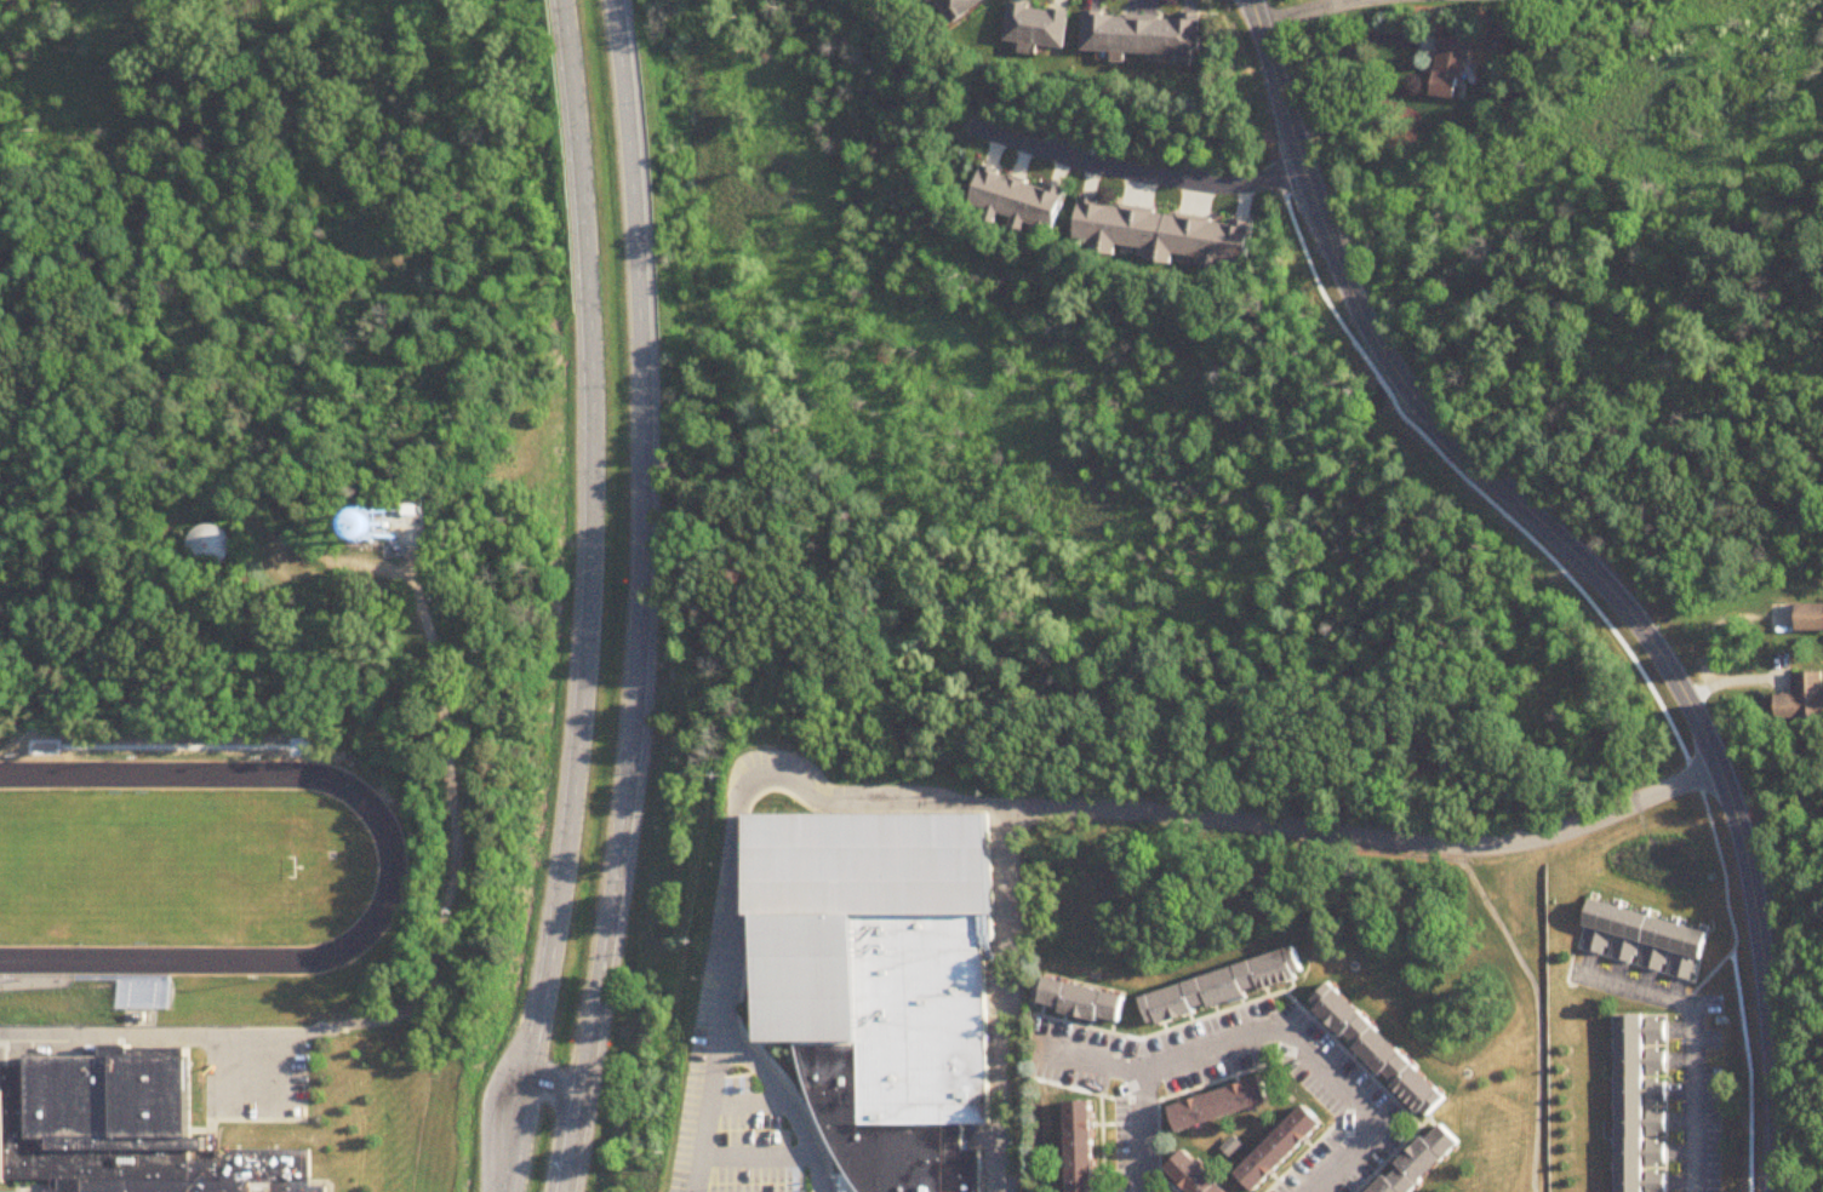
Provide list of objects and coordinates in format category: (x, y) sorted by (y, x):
building: (960, 8)
road: (1299, 13)
building: (1039, 27)
building: (1143, 34)
building: (1451, 68)
road: (1137, 173)
building: (1021, 201)
building: (1164, 233)
building: (399, 526)
water tower: (396, 528)
road: (588, 544)
building: (212, 548)
road: (1587, 566)
road: (641, 597)
building: (1810, 618)
building: (1802, 699)
road: (445, 703)
road: (1016, 808)
road: (1784, 844)
park: (158, 873)
track: (385, 877)
road: (1726, 899)
road: (1179, 911)
building: (1650, 925)
road: (32, 968)
road: (745, 973)
road: (34, 980)
building: (887, 984)
building: (1235, 984)
road: (1290, 998)
road: (1000, 999)
building: (1093, 1002)
road: (1539, 1010)
building: (142, 1018)
road: (1262, 1032)
road: (1690, 1037)
road: (153, 1038)
road: (760, 1045)
road: (1798, 1047)
building: (1388, 1051)
parking lot: (742, 1087)
parking lot: (695, 1091)
road: (1170, 1098)
road: (1104, 1100)
building: (1631, 1101)
building: (1223, 1104)
road: (749, 1105)
road: (1099, 1107)
road: (256, 1111)
road: (710, 1113)
road: (561, 1125)
building: (124, 1130)
parking lot: (753, 1133)
road: (1139, 1133)
road: (519, 1139)
building: (1284, 1141)
building: (1079, 1145)
road: (756, 1157)
road: (1304, 1157)
building: (1424, 1162)
park: (1501, 1167)
building: (1194, 1173)
road: (1128, 1174)
parking lot: (755, 1180)

